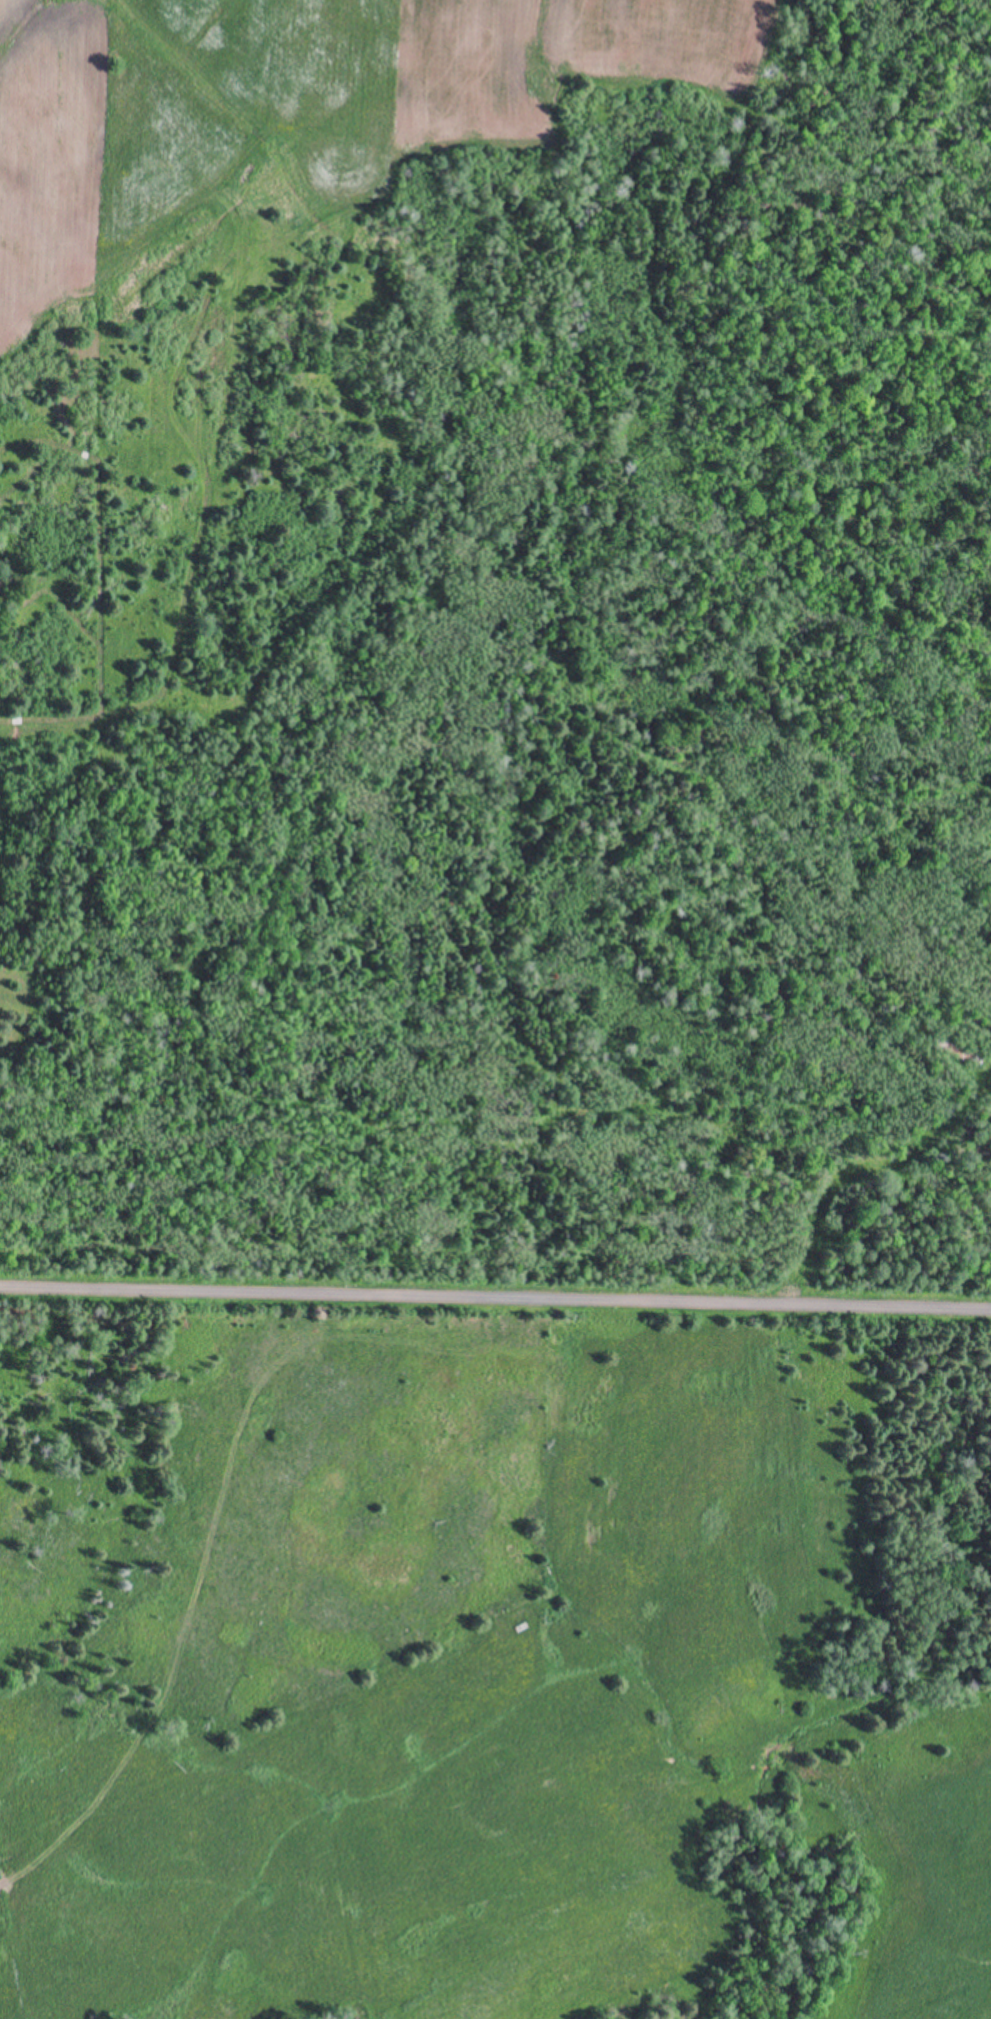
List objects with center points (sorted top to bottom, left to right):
building: (958, 1054)
road: (495, 1300)

